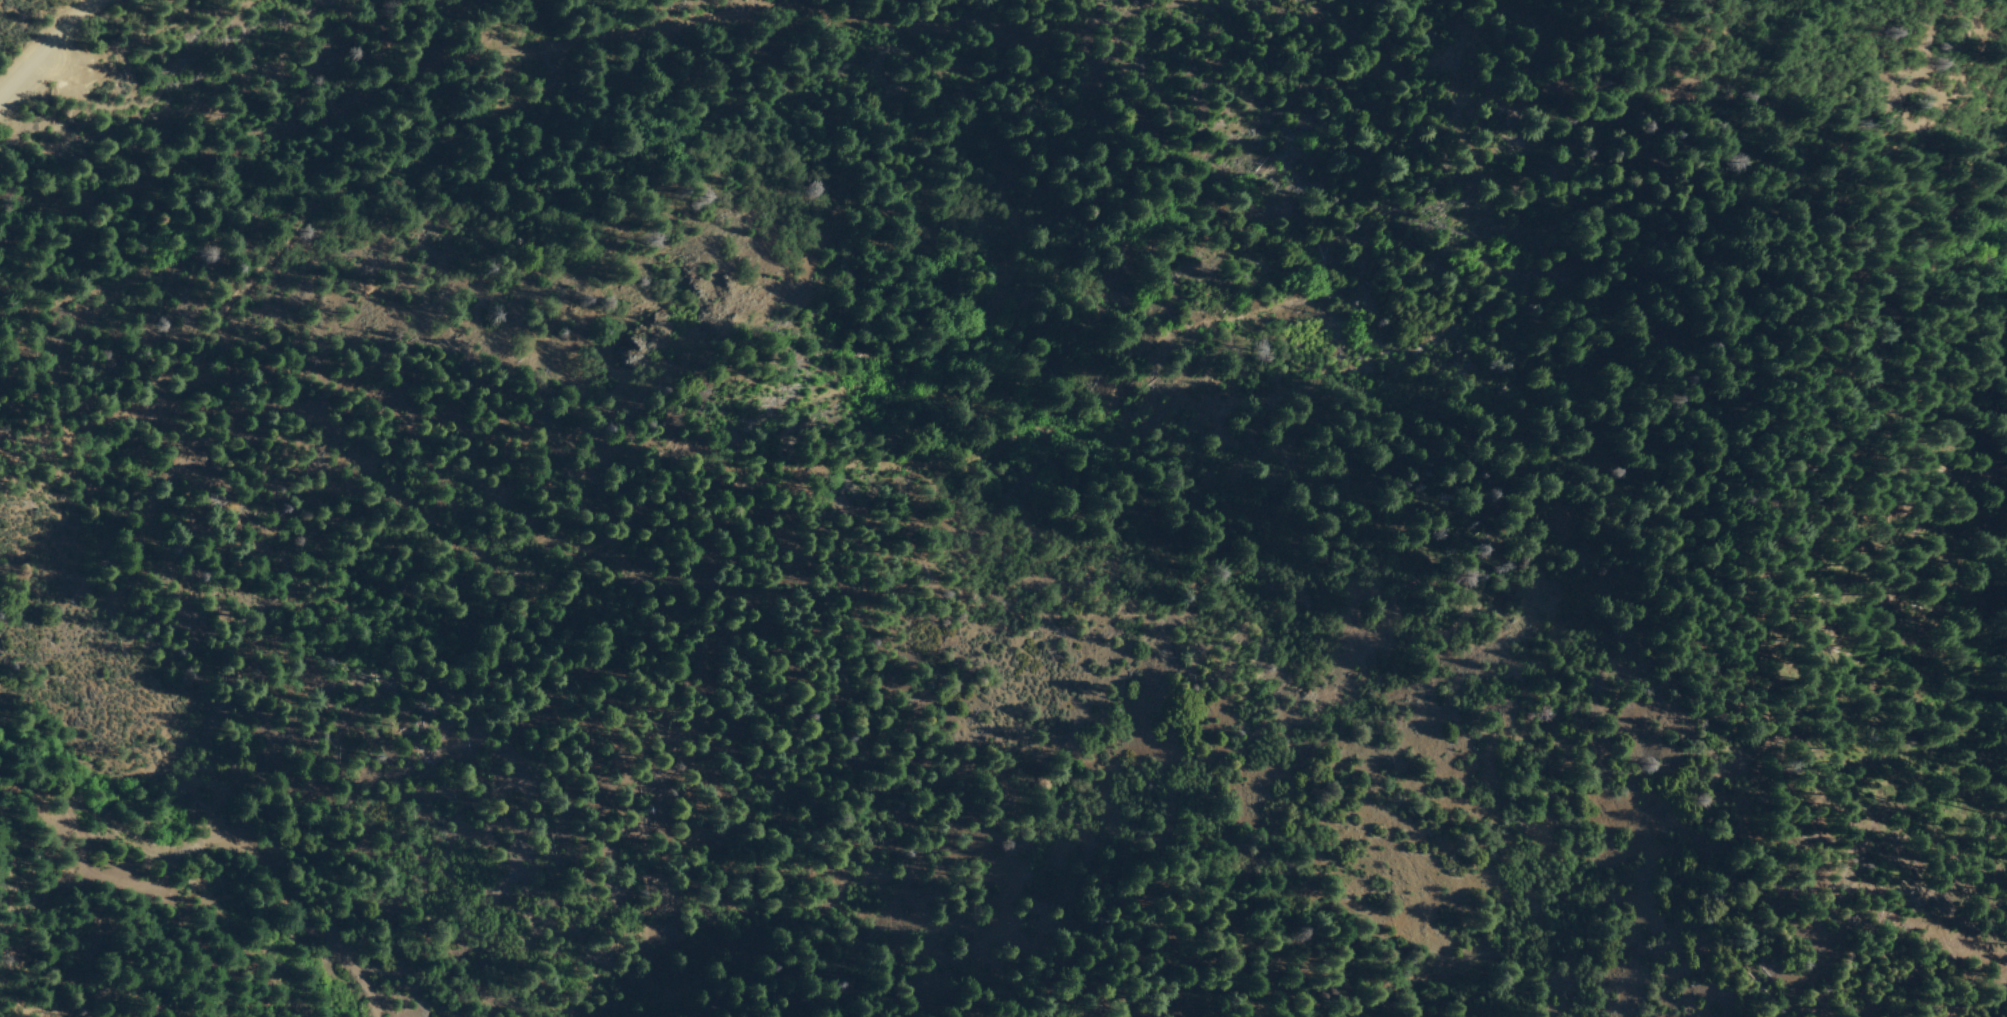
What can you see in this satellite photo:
road: (49, 44)
road: (216, 831)

